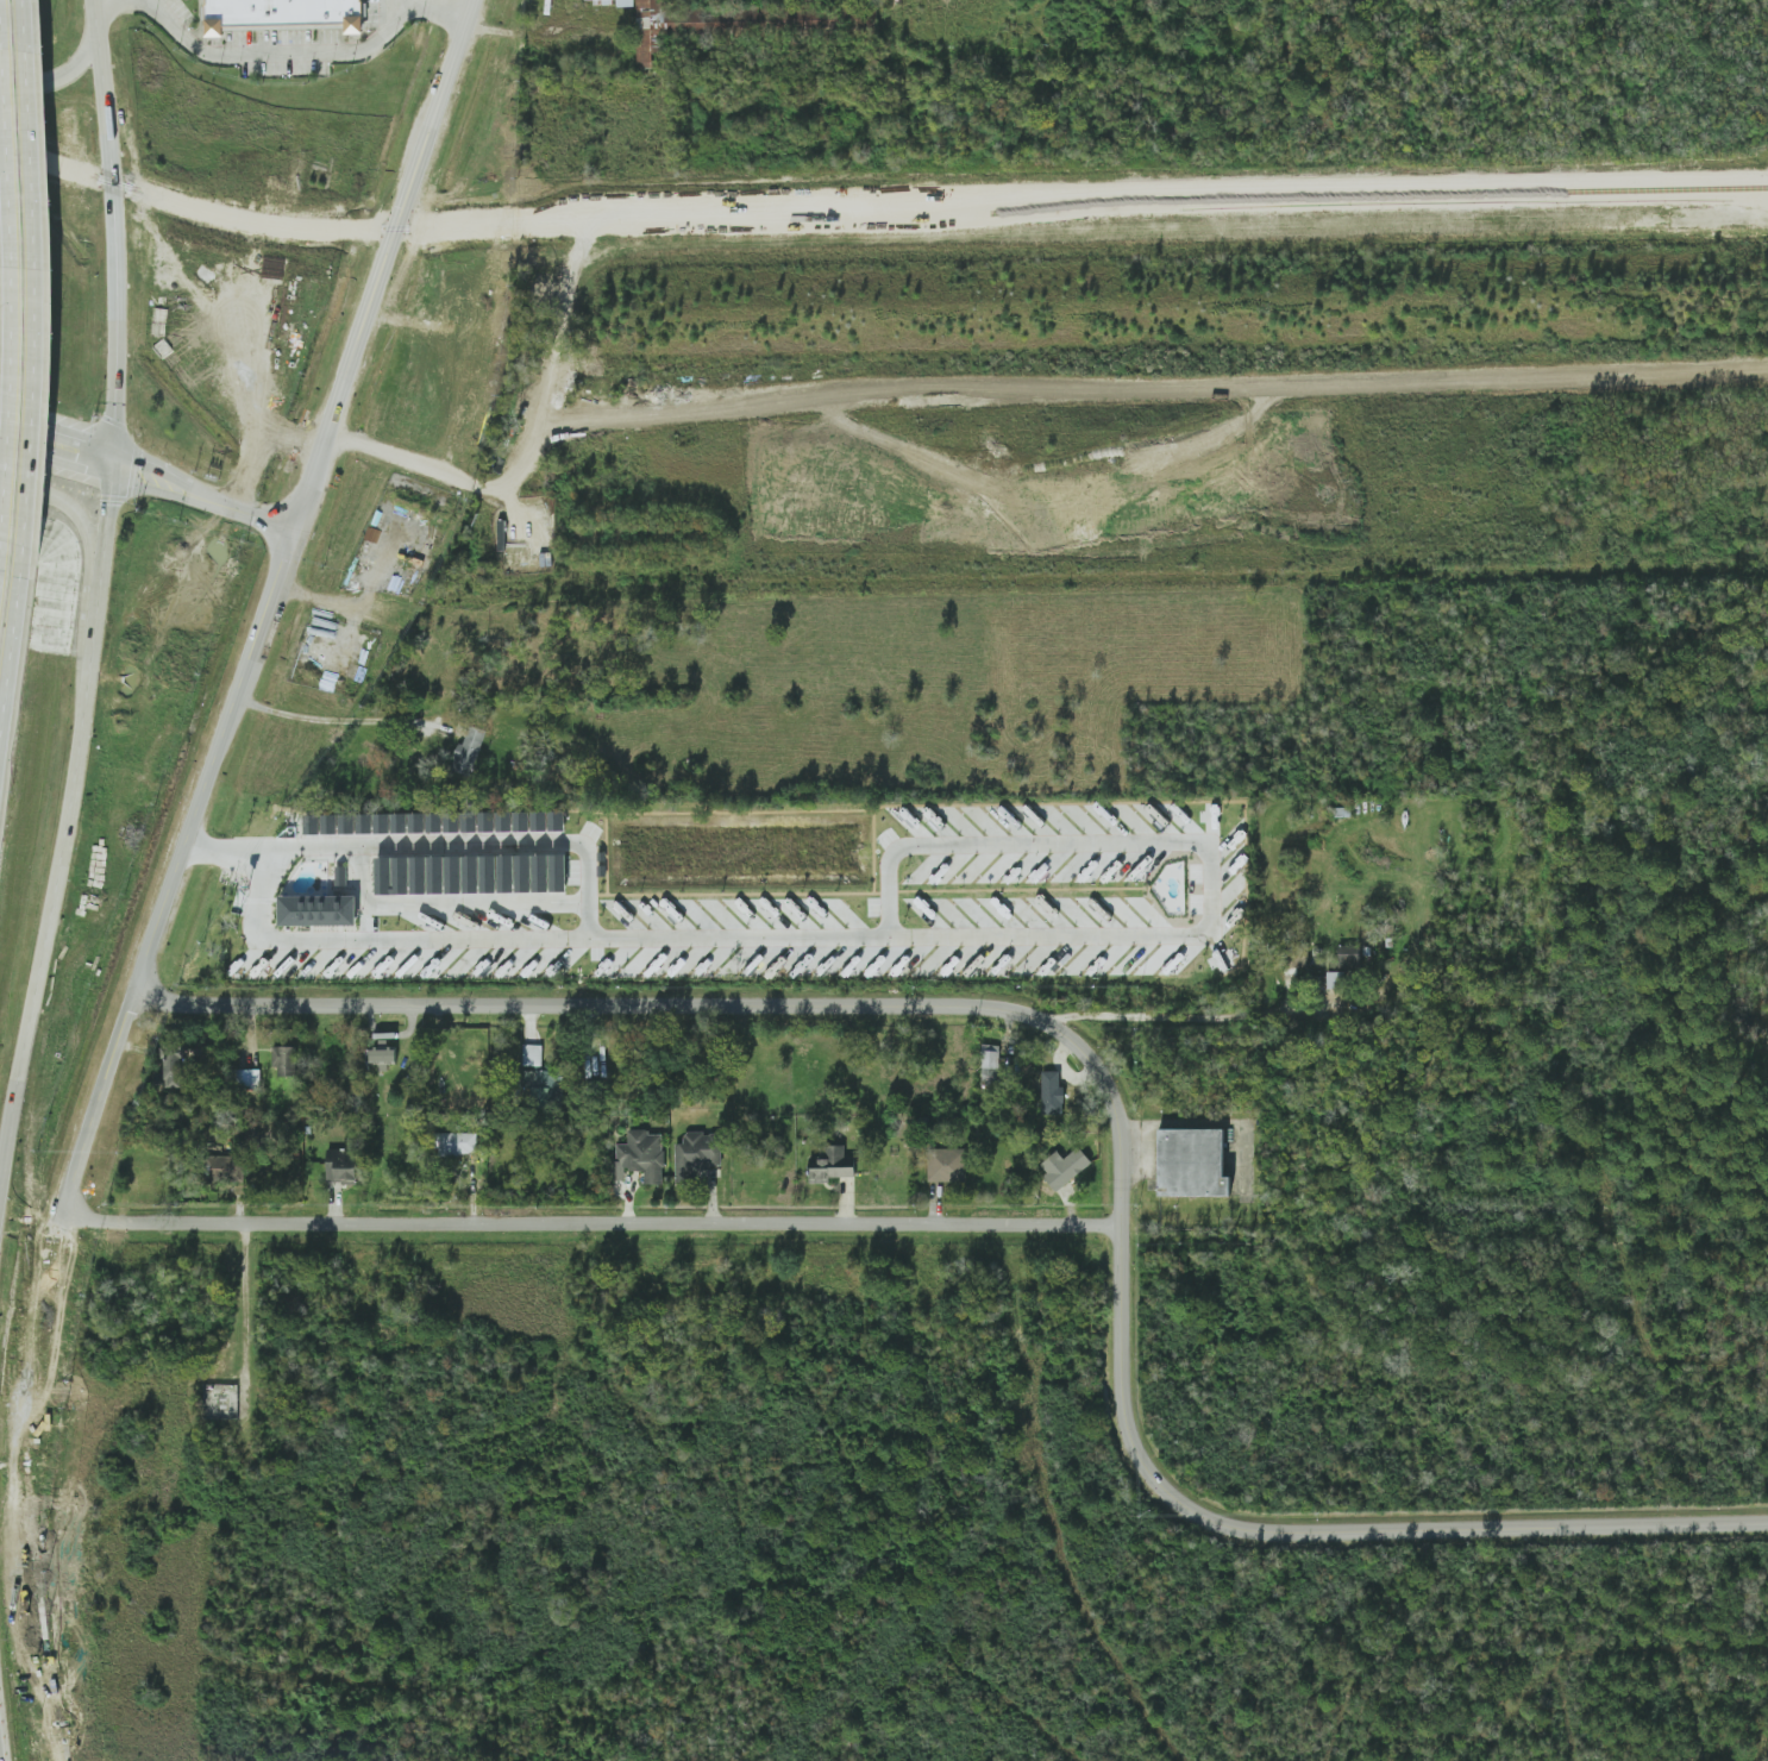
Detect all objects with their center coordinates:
road: (105, 0)
road: (408, 4)
building: (283, 13)
river: (1712, 48)
road: (307, 54)
road: (65, 76)
railway: (877, 218)
road: (118, 225)
building: (272, 272)
road: (58, 433)
road: (58, 456)
road: (416, 459)
road: (117, 463)
traffic signals: (117, 476)
road: (186, 481)
road: (302, 493)
road: (202, 502)
road: (69, 506)
road: (355, 603)
road: (250, 703)
road: (267, 708)
road: (352, 720)
building: (469, 750)
building: (548, 821)
building: (418, 822)
building: (434, 822)
building: (381, 872)
building: (553, 872)
building: (483, 873)
building: (501, 873)
building: (519, 873)
building: (535, 873)
building: (414, 875)
building: (432, 875)
building: (449, 875)
building: (466, 875)
road: (588, 896)
building: (318, 910)
road: (1152, 932)
building: (1349, 955)
building: (1335, 979)
road: (1181, 1015)
building: (533, 1054)
building: (381, 1057)
building: (284, 1060)
building: (990, 1063)
building: (175, 1065)
building: (249, 1079)
building: (544, 1086)
road: (1109, 1092)
building: (1052, 1093)
road: (99, 1107)
road: (25, 1116)
building: (457, 1143)
building: (697, 1154)
building: (641, 1155)
building: (1195, 1162)
building: (832, 1165)
building: (947, 1165)
building: (341, 1166)
building: (227, 1168)
building: (1067, 1170)
road: (1444, 1221)
road: (589, 1223)
road: (244, 1299)

